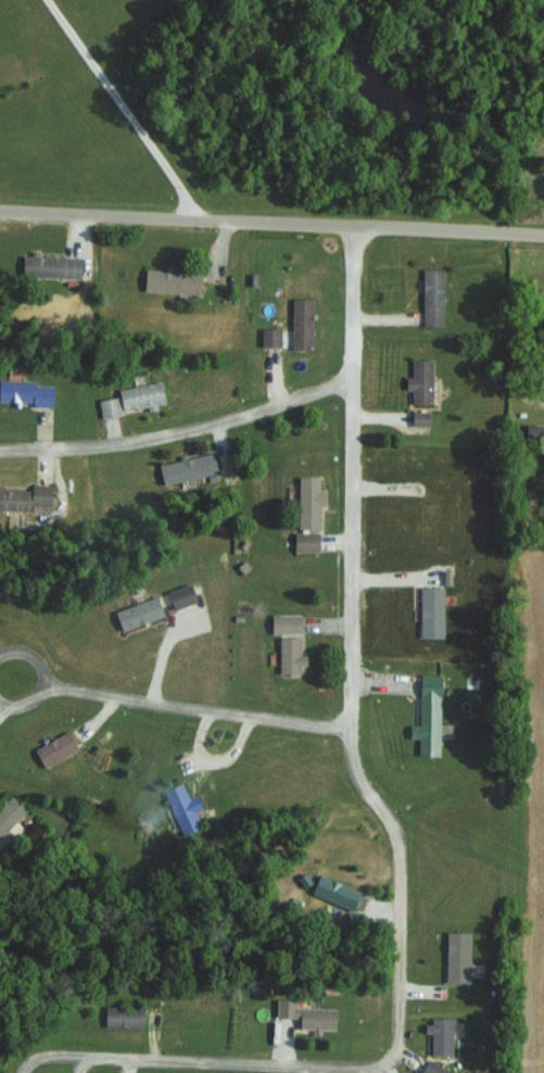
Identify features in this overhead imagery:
road: (131, 109)
road: (271, 222)
building: (50, 266)
building: (170, 281)
building: (431, 298)
building: (301, 324)
building: (269, 338)
building: (419, 382)
building: (24, 392)
building: (141, 395)
building: (109, 407)
building: (419, 418)
road: (185, 431)
building: (533, 432)
building: (187, 468)
building: (25, 497)
building: (308, 502)
building: (305, 541)
building: (180, 595)
building: (431, 611)
building: (137, 613)
road: (36, 653)
building: (289, 655)
road: (2, 699)
road: (178, 704)
road: (3, 711)
building: (428, 715)
power tower: (218, 736)
building: (54, 748)
road: (380, 798)
building: (181, 807)
building: (9, 812)
building: (338, 893)
building: (456, 956)
building: (306, 1014)
building: (123, 1015)
building: (439, 1036)
road: (50, 1057)
road: (83, 1065)
building: (430, 1068)

